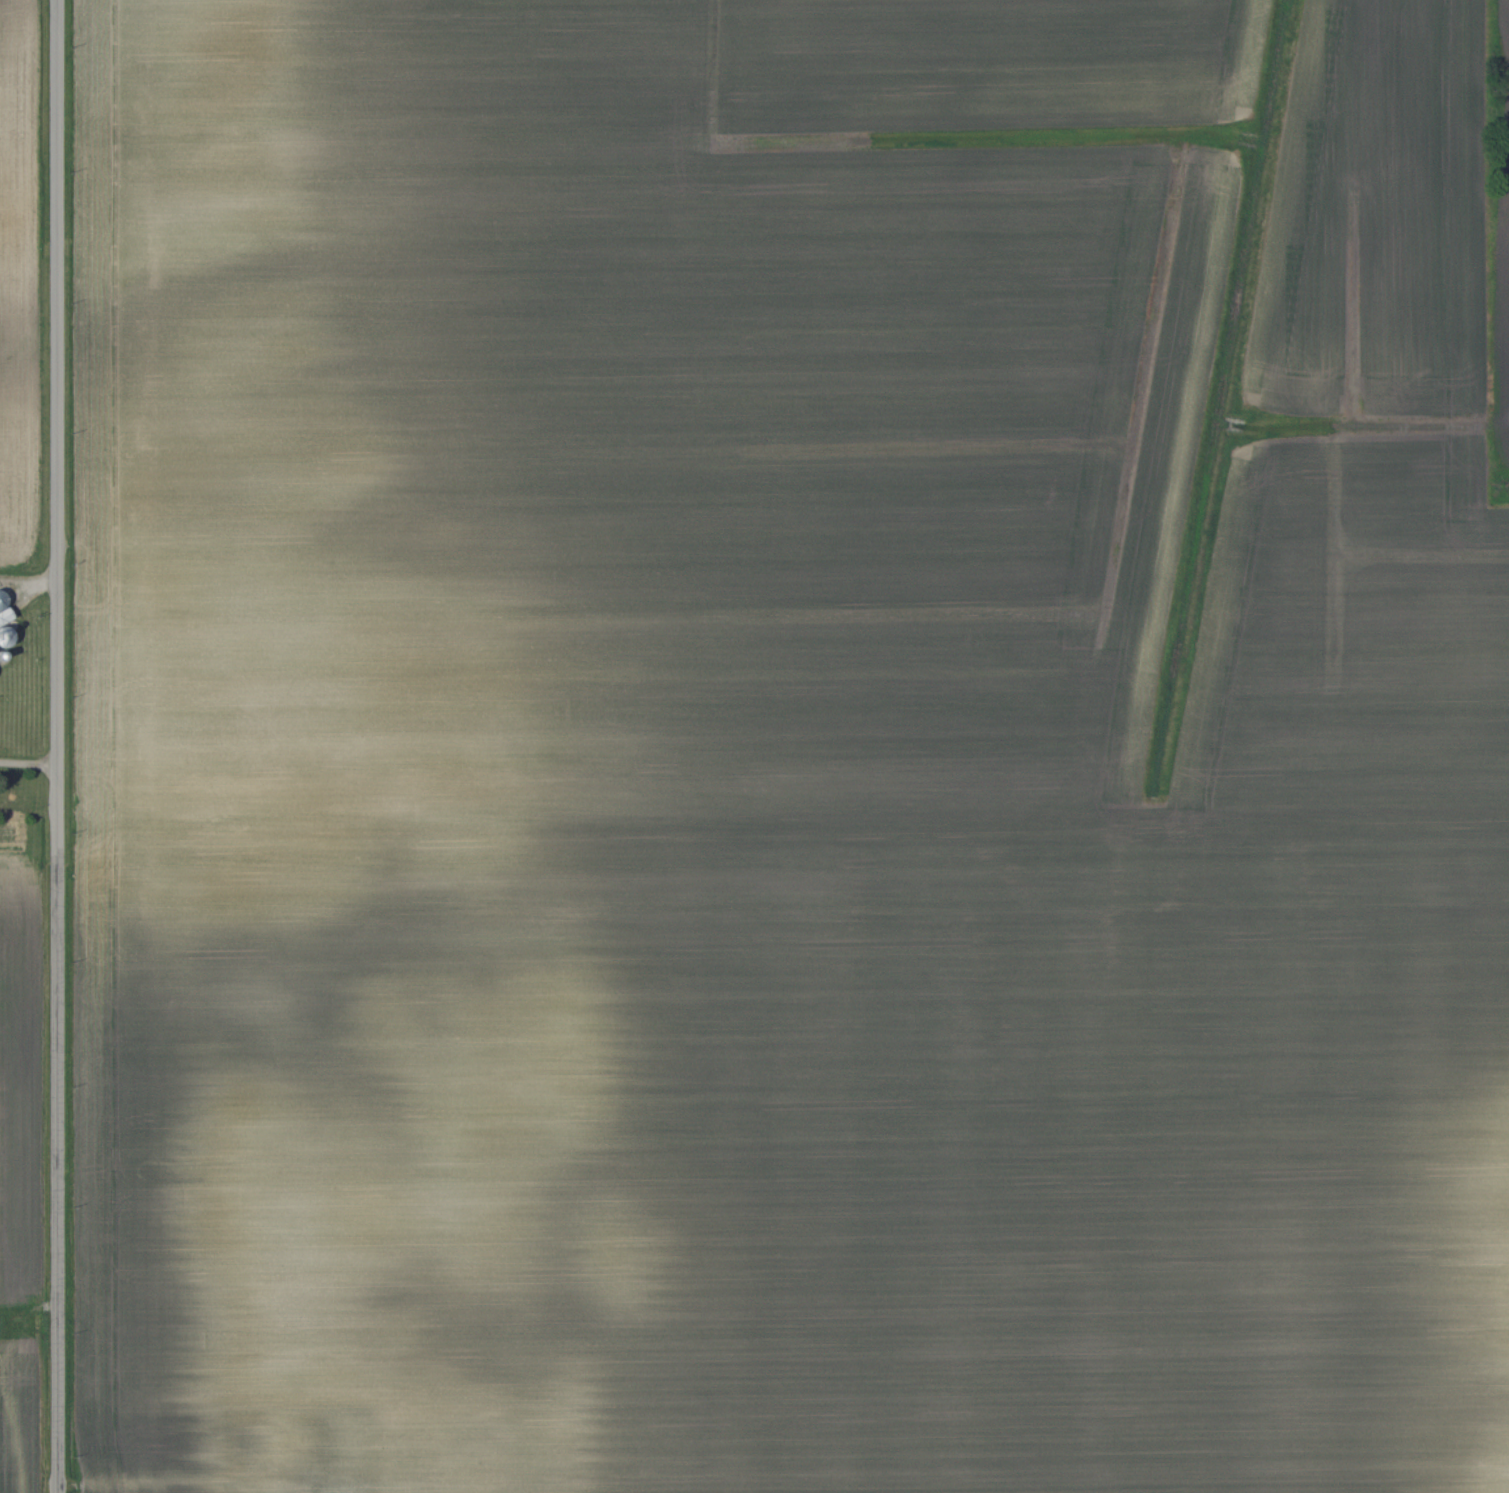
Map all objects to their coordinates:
road: (48, 746)
road: (24, 762)

